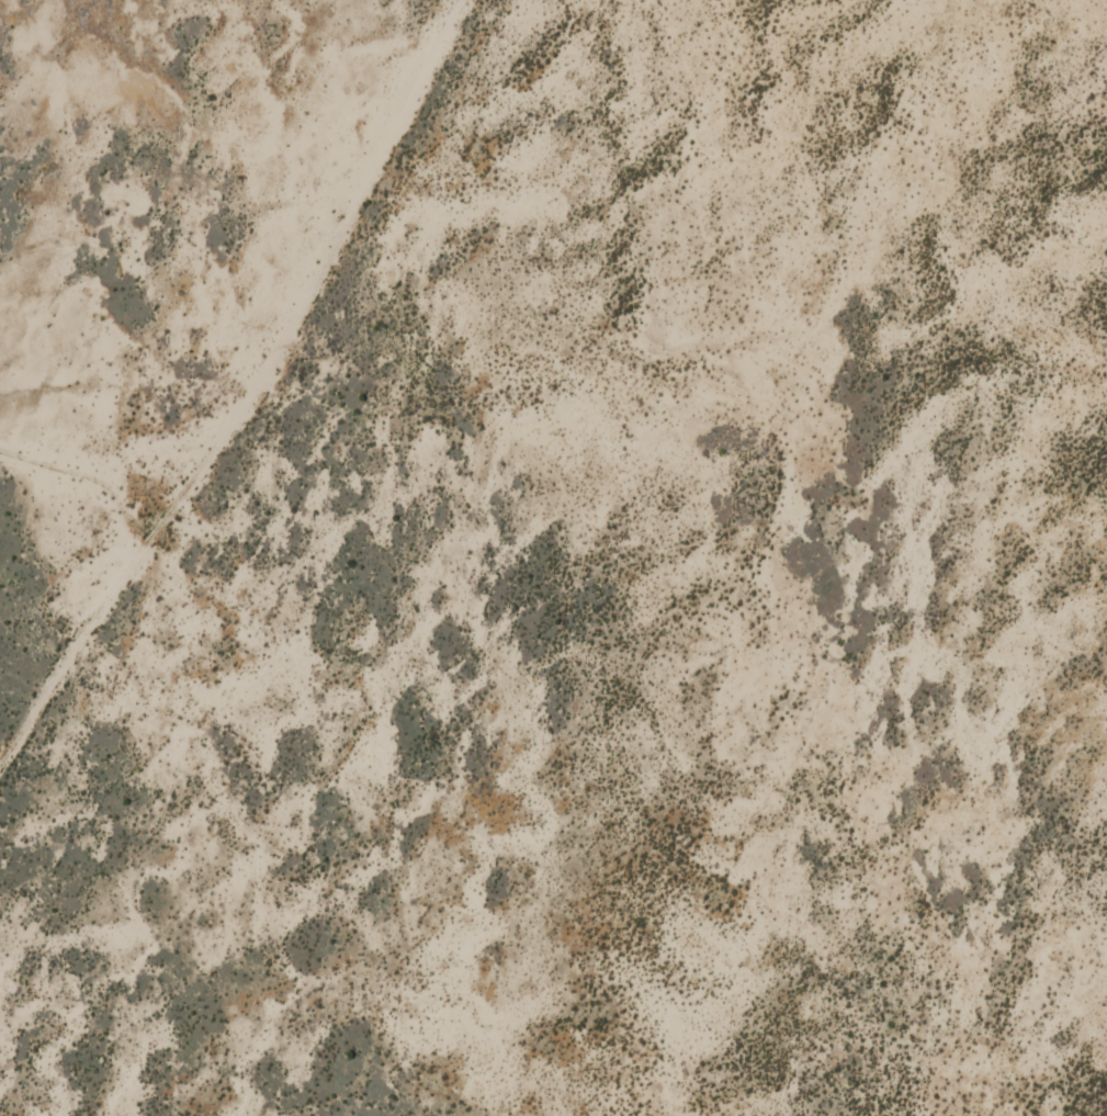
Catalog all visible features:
road: (279, 376)

